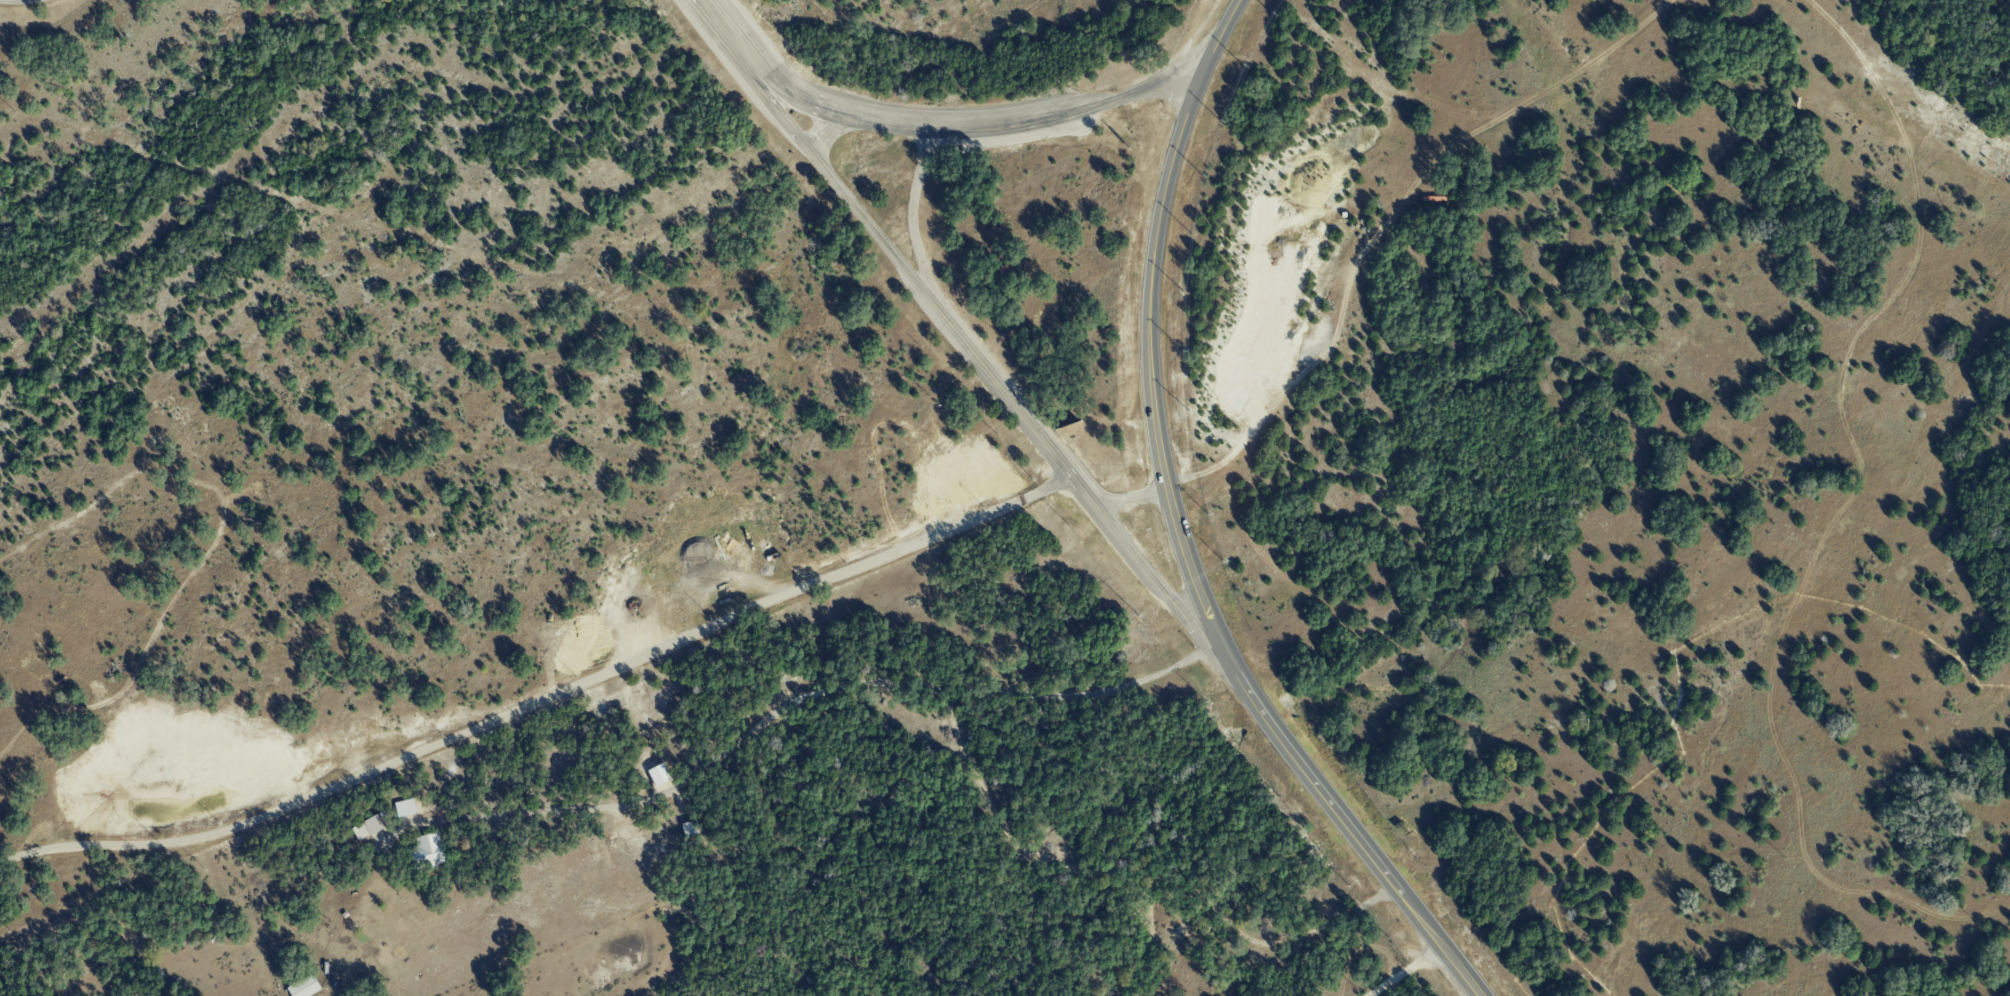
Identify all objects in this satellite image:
road: (994, 130)
road: (915, 221)
road: (970, 351)
road: (1151, 355)
road: (541, 693)
road: (787, 699)
building: (657, 774)
building: (404, 807)
building: (368, 826)
building: (427, 851)
road: (1365, 851)
road: (1399, 970)
building: (303, 986)

